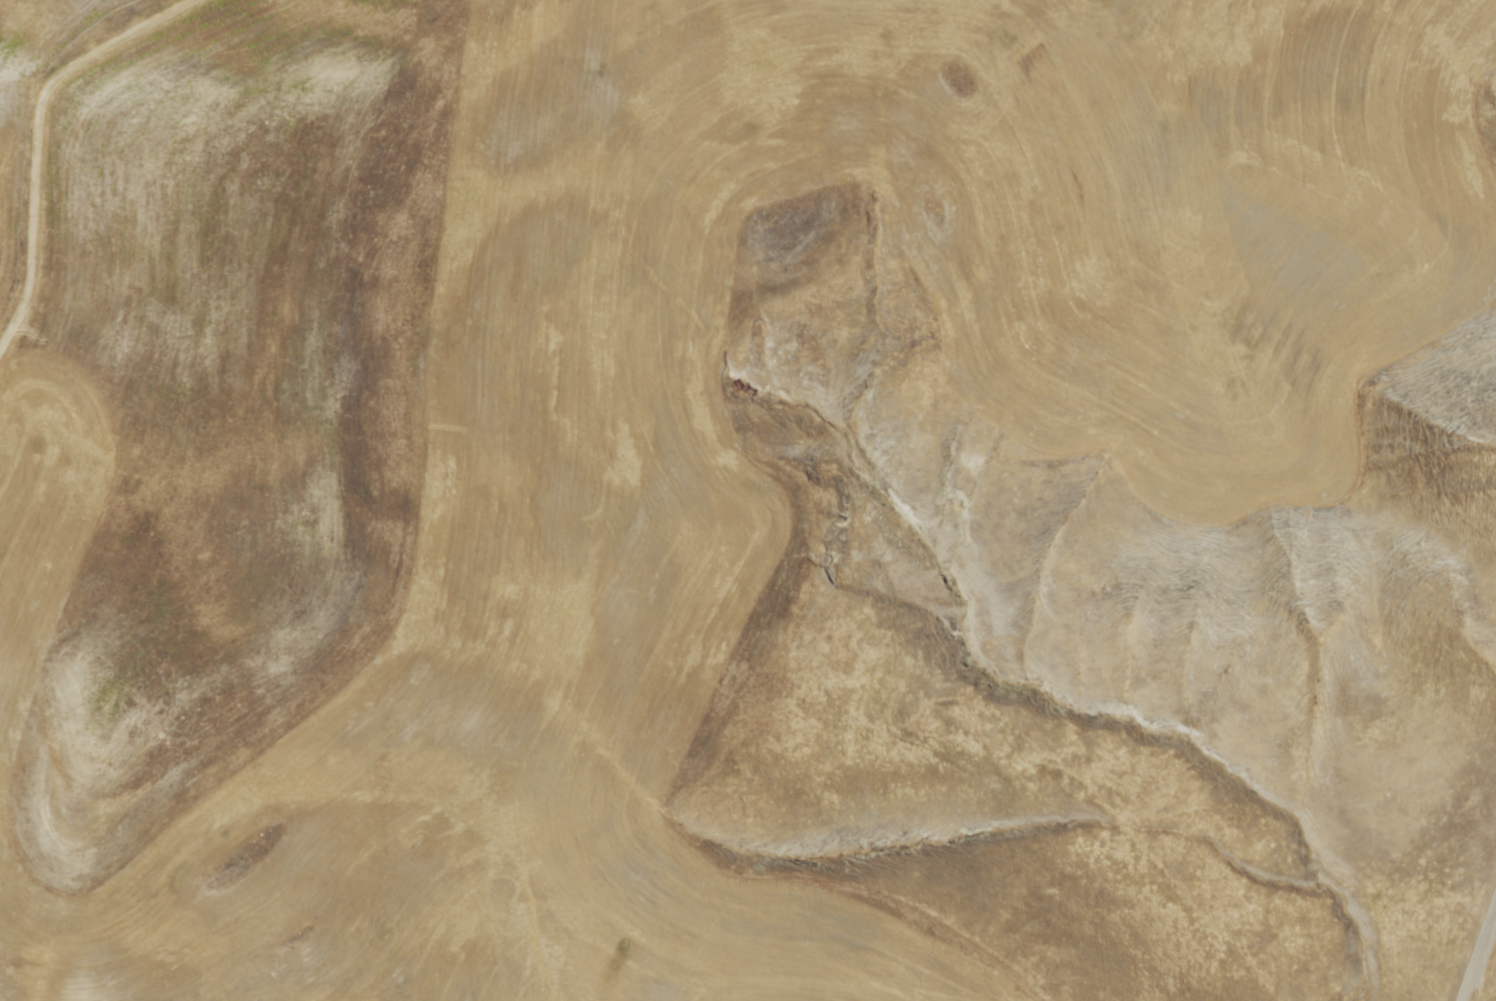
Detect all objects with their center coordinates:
road: (41, 140)
road: (1480, 956)

